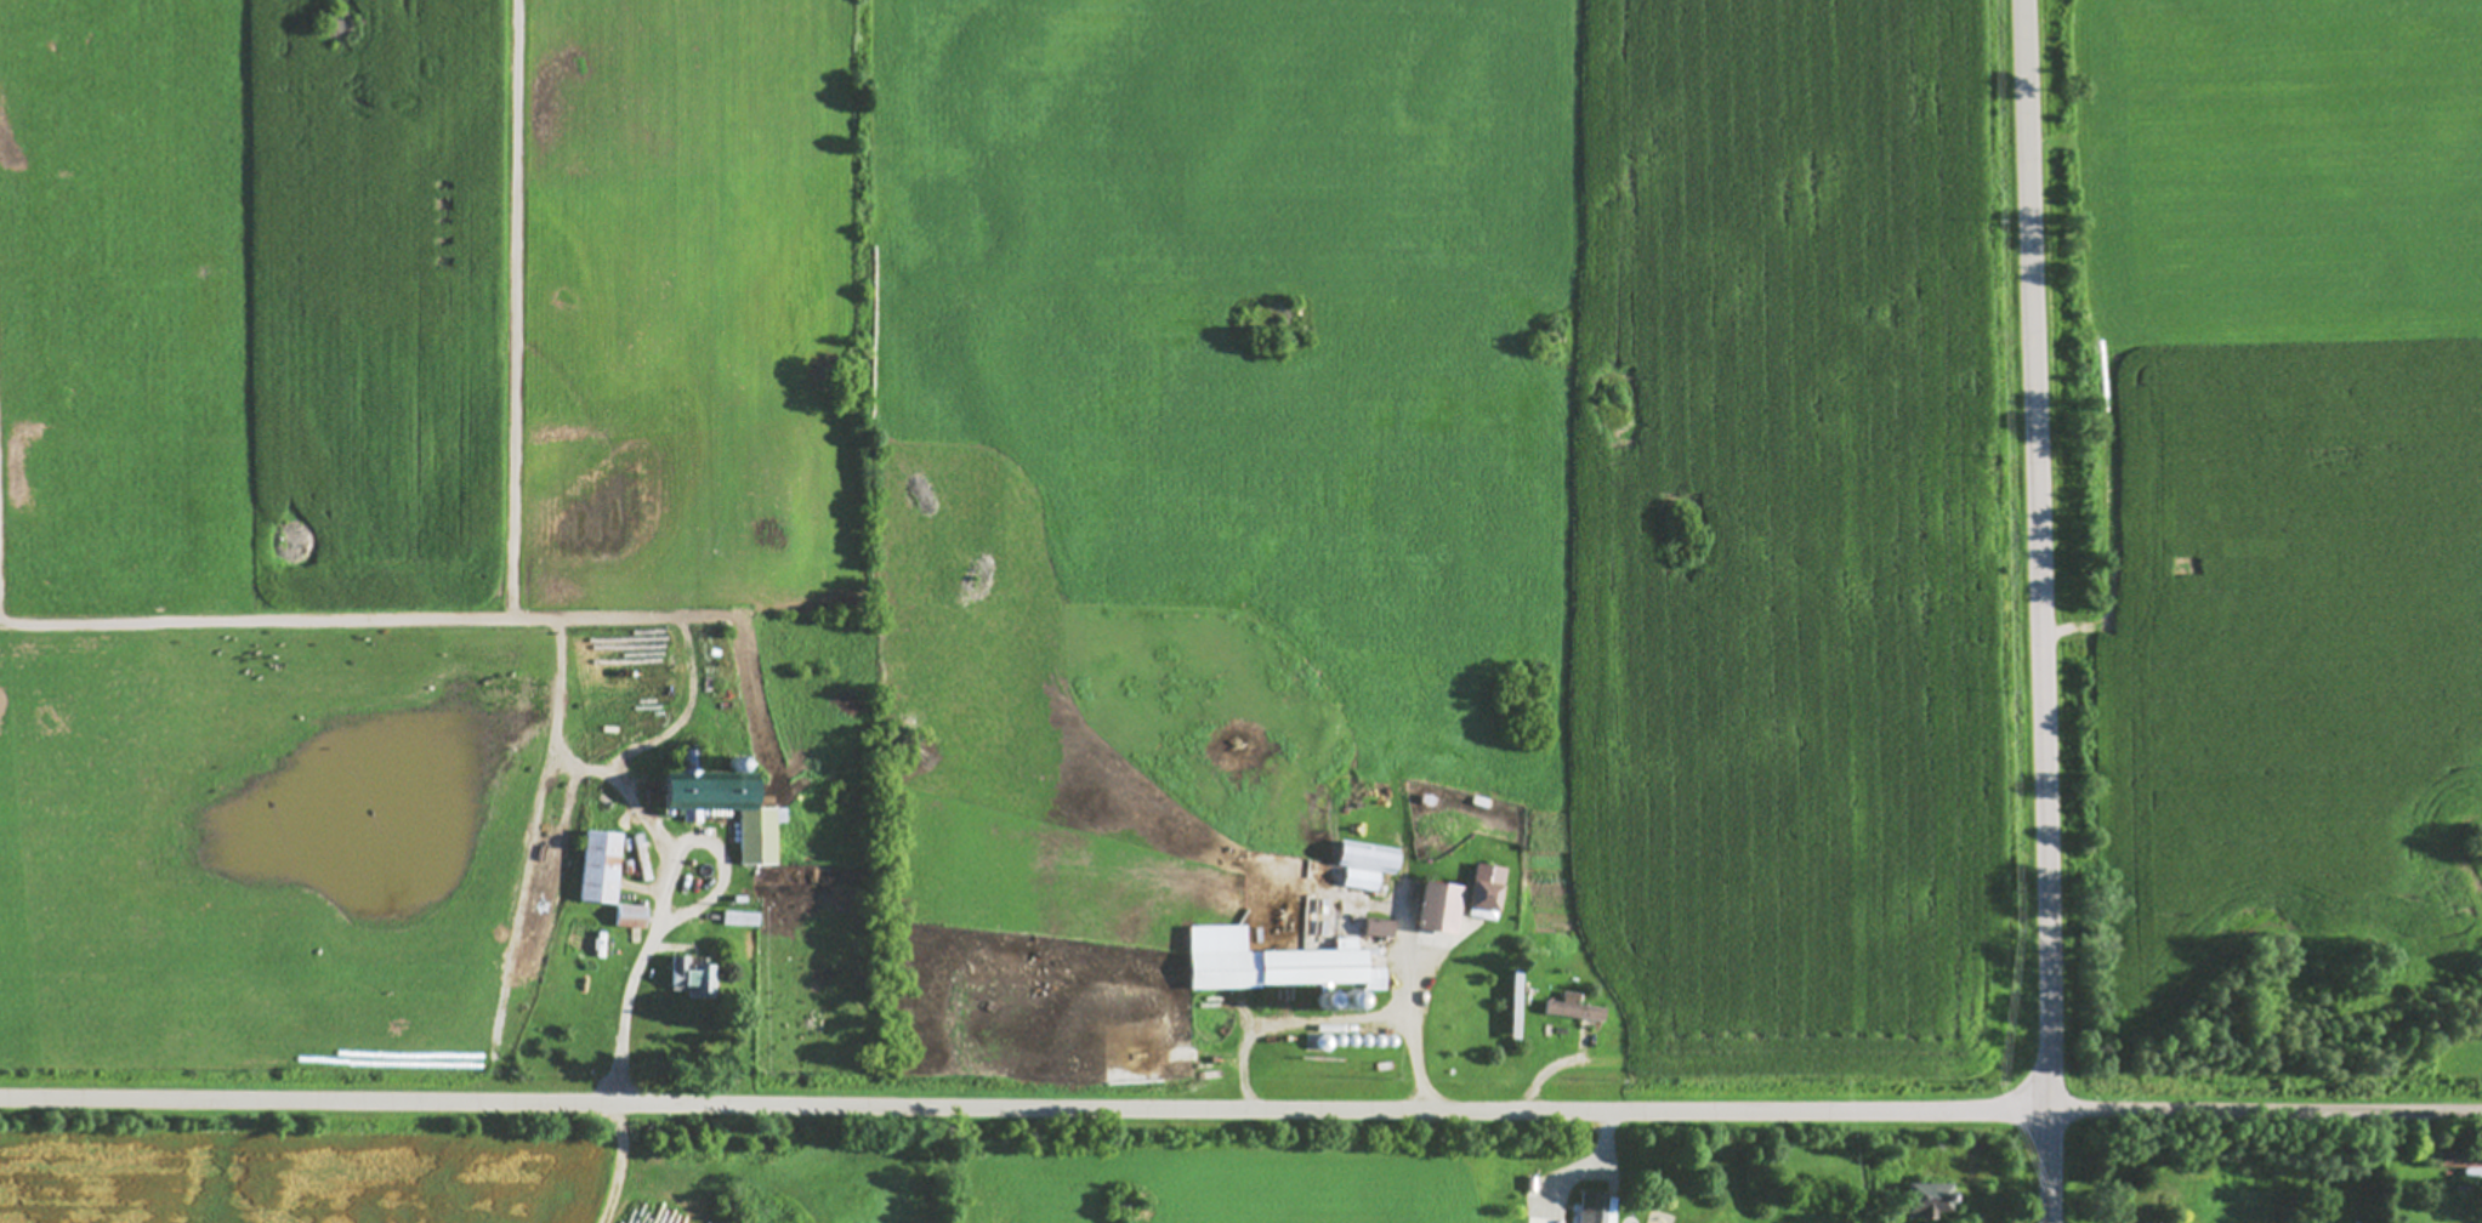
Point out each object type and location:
road: (2034, 610)
building: (728, 807)
building: (1368, 864)
building: (601, 868)
building: (1488, 892)
building: (1442, 908)
building: (631, 916)
building: (1381, 928)
building: (1277, 962)
building: (694, 978)
road: (624, 1007)
building: (1575, 1008)
road: (1328, 1020)
road: (1023, 1105)
road: (2265, 1110)
building: (2461, 1161)
building: (1931, 1200)
building: (1595, 1208)

